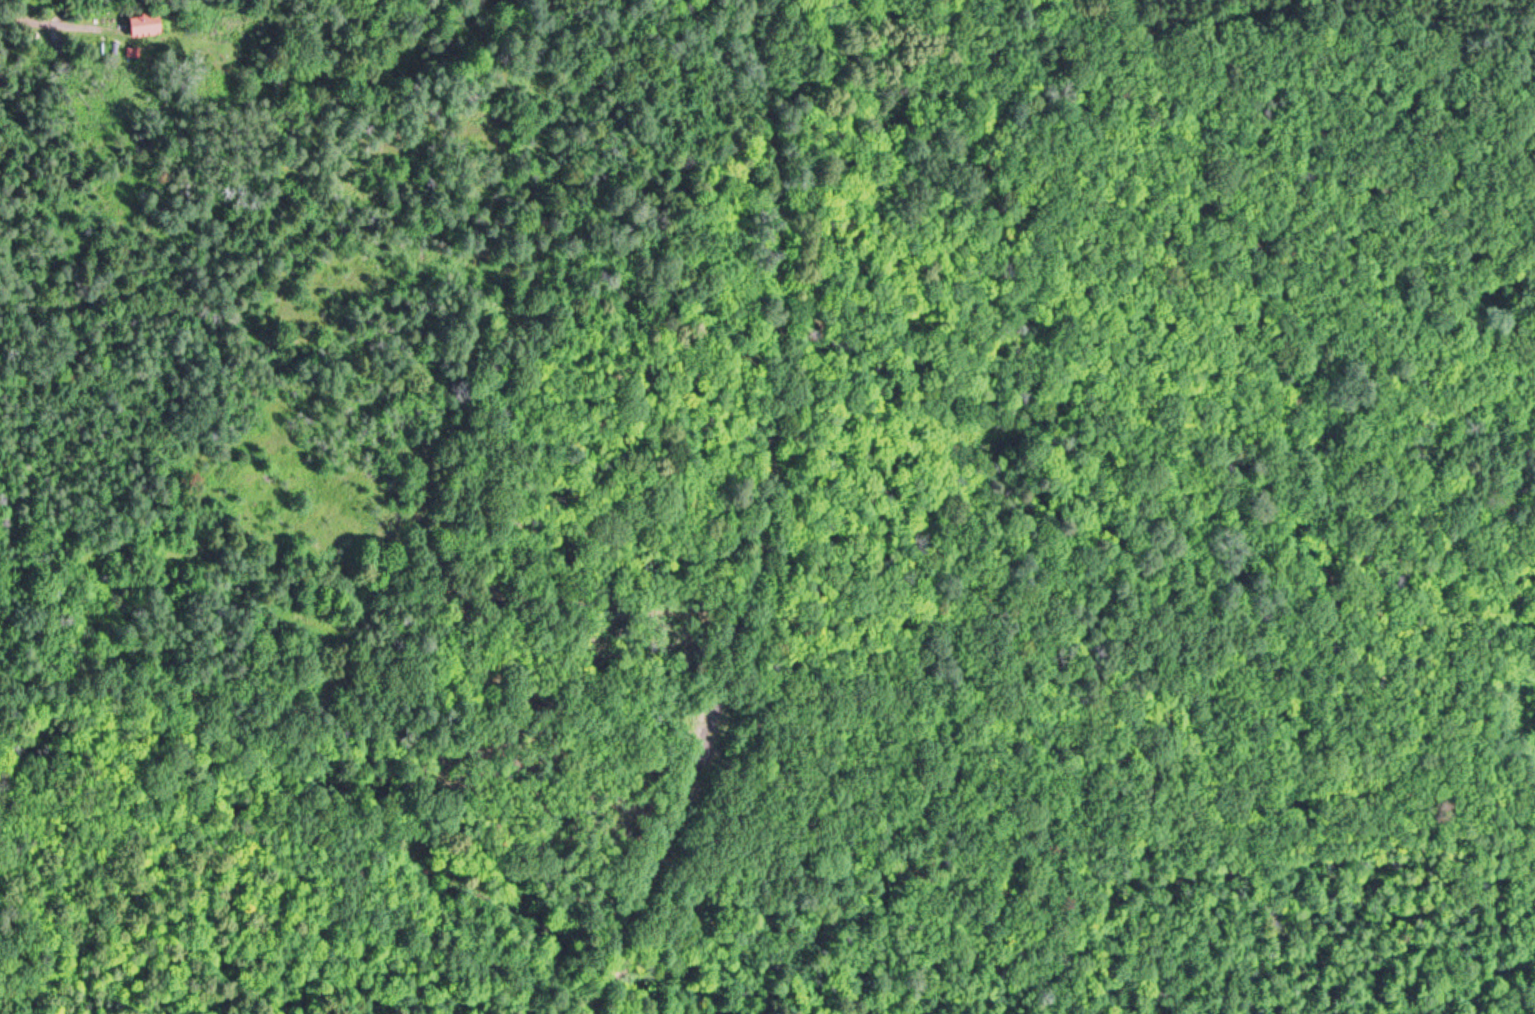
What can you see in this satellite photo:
building: (142, 24)

